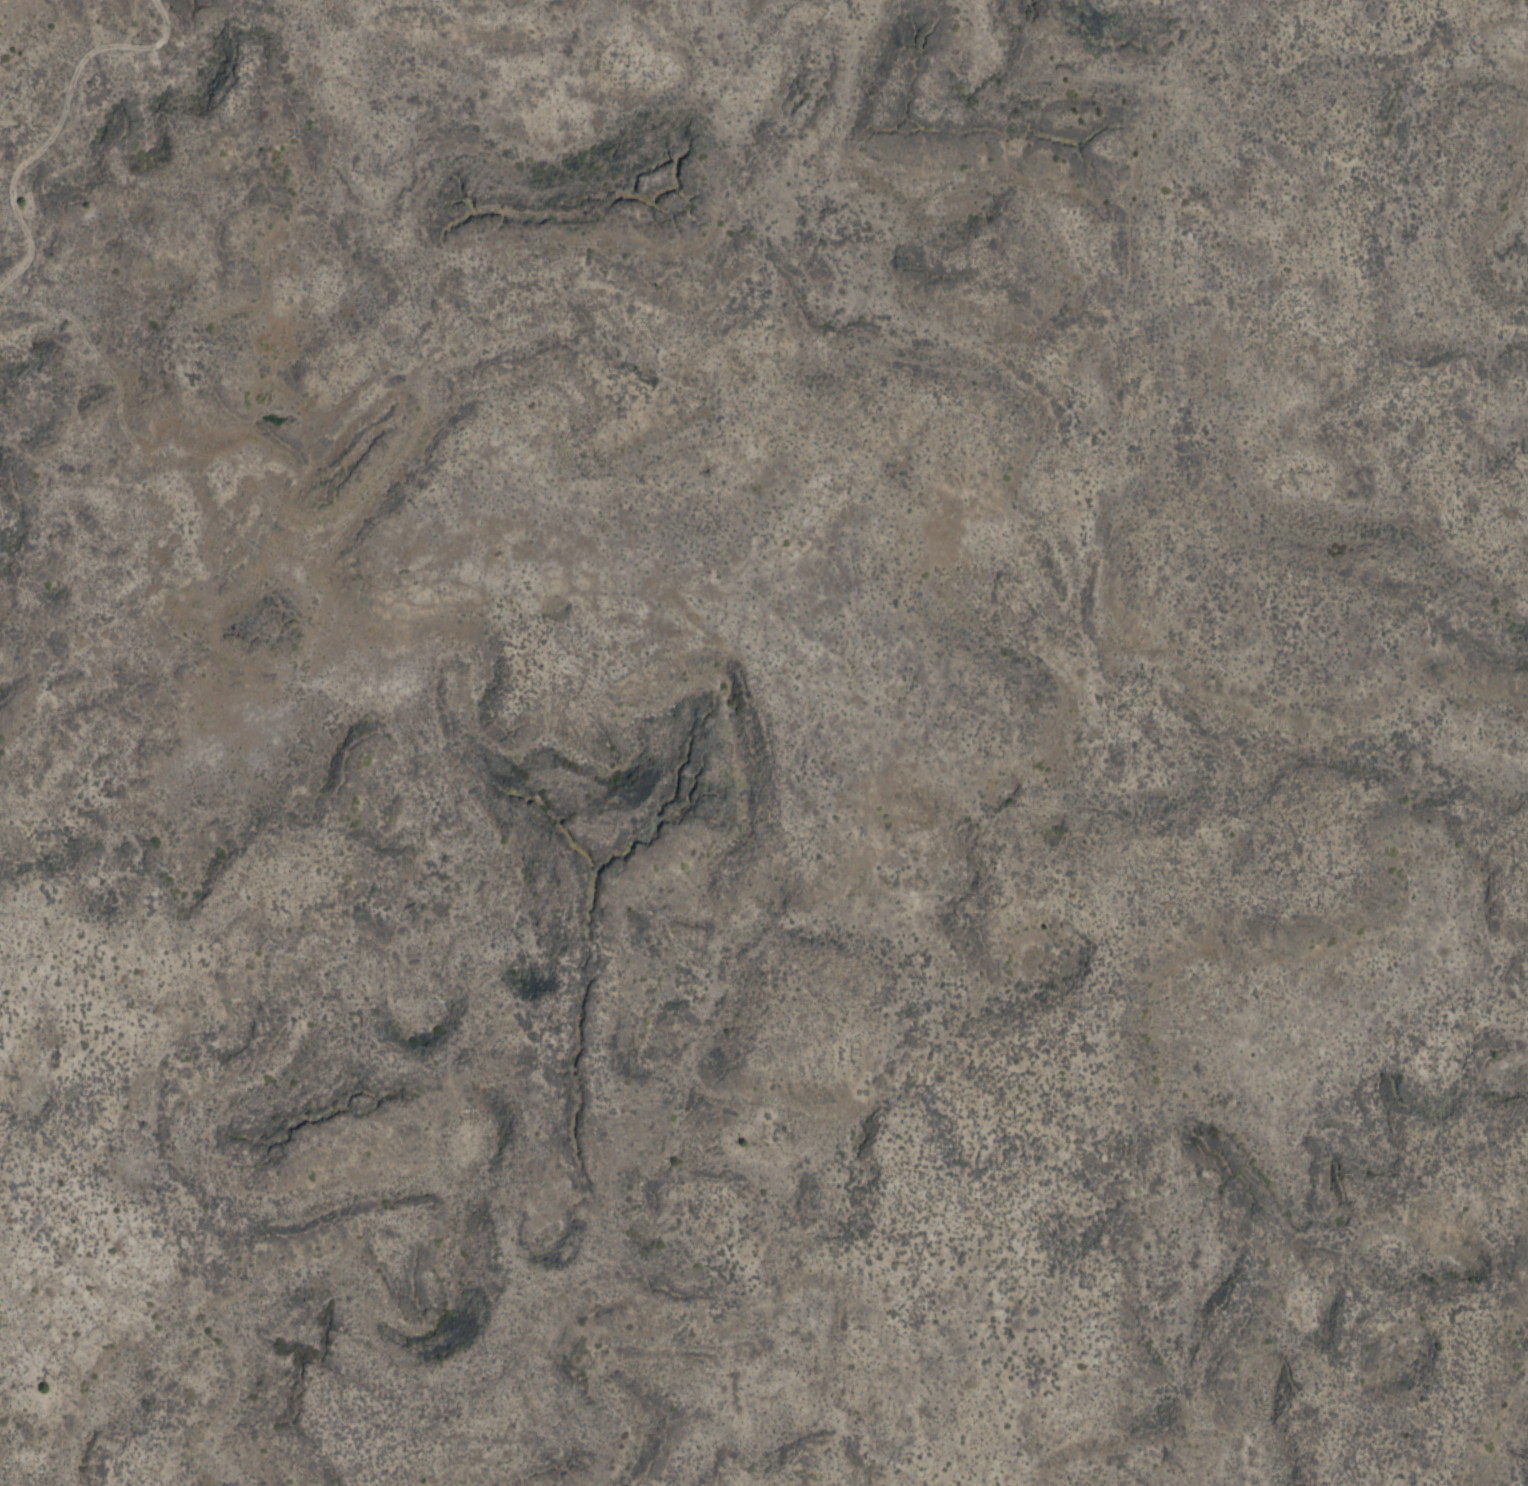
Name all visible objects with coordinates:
road: (59, 123)

